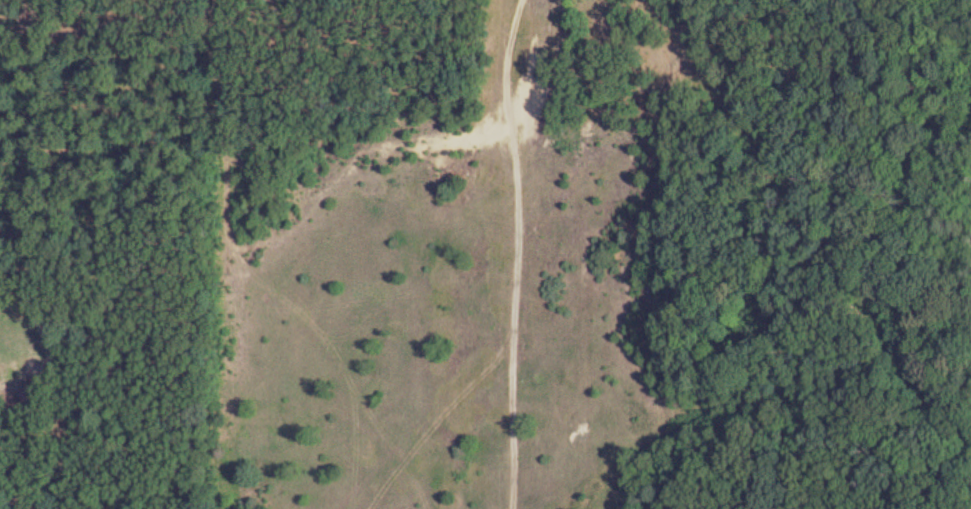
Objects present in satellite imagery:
wastewater plant: (969, 47)

